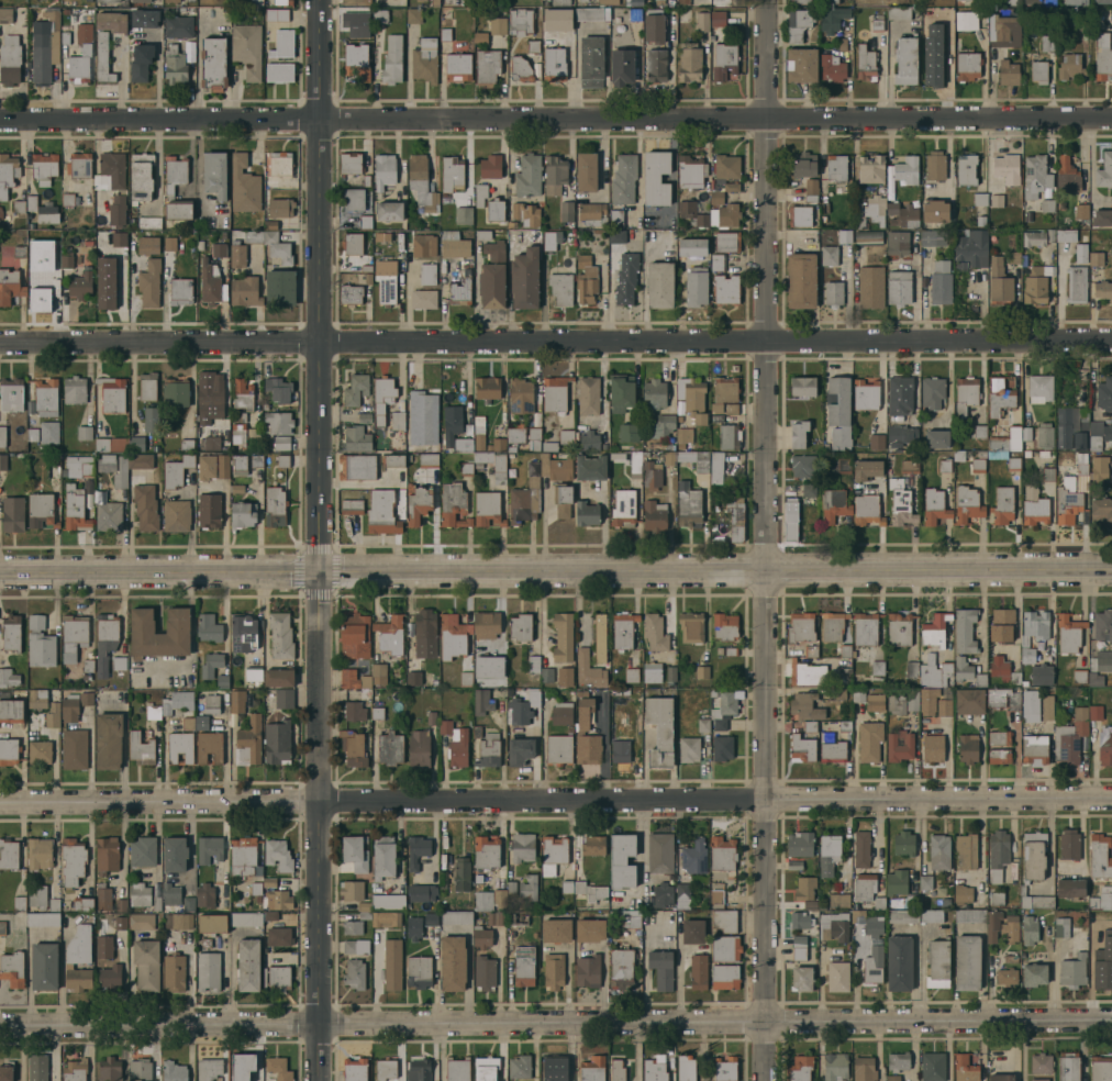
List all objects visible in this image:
building: (108, 0)
building: (140, 0)
building: (190, 0)
building: (421, 0)
building: (582, 0)
building: (173, 1)
building: (608, 1)
building: (801, 1)
building: (829, 1)
building: (893, 1)
building: (1043, 1)
building: (1104, 1)
building: (256, 2)
building: (282, 2)
building: (356, 2)
building: (435, 2)
building: (560, 2)
building: (658, 2)
building: (683, 2)
building: (977, 2)
building: (1007, 2)
building: (1076, 2)
building: (66, 11)
building: (589, 13)
building: (634, 13)
building: (899, 13)
building: (983, 13)
building: (276, 14)
building: (5, 15)
building: (413, 15)
building: (557, 15)
building: (380, 16)
building: (144, 18)
building: (356, 18)
building: (1079, 18)
building: (718, 19)
building: (830, 19)
building: (111, 21)
building: (520, 21)
building: (967, 21)
building: (702, 22)
building: (798, 24)
building: (877, 25)
building: (945, 25)
building: (179, 26)
building: (498, 26)
building: (654, 27)
building: (1004, 27)
building: (36, 30)
building: (445, 34)
building: (65, 37)
building: (480, 37)
building: (845, 43)
building: (1047, 43)
building: (282, 44)
building: (533, 46)
building: (86, 49)
building: (246, 49)
building: (45, 51)
building: (1103, 56)
building: (103, 58)
building: (10, 59)
building: (392, 60)
building: (424, 60)
building: (590, 60)
building: (905, 60)
building: (357, 62)
building: (724, 62)
building: (141, 63)
building: (689, 63)
building: (936, 63)
building: (212, 64)
building: (865, 64)
building: (175, 65)
building: (554, 65)
building: (656, 65)
building: (802, 65)
building: (967, 66)
building: (1071, 66)
building: (458, 67)
building: (487, 67)
building: (622, 67)
building: (520, 69)
building: (831, 69)
building: (1039, 71)
building: (279, 73)
building: (1009, 73)
road: (556, 121)
building: (279, 164)
building: (351, 164)
building: (79, 165)
building: (804, 165)
building: (935, 165)
building: (836, 166)
building: (491, 167)
building: (726, 167)
building: (44, 168)
building: (113, 168)
building: (1007, 168)
building: (871, 169)
building: (967, 169)
building: (907, 170)
building: (1104, 170)
building: (385, 171)
building: (587, 171)
building: (175, 172)
building: (691, 172)
building: (7, 174)
building: (214, 174)
building: (452, 175)
building: (555, 175)
building: (1067, 175)
building: (140, 176)
building: (529, 176)
building: (1035, 176)
building: (656, 178)
building: (367, 180)
building: (422, 182)
building: (270, 183)
building: (243, 186)
building: (732, 187)
building: (811, 187)
building: (622, 188)
building: (480, 194)
building: (718, 198)
building: (811, 198)
building: (68, 199)
building: (980, 199)
building: (994, 199)
building: (354, 200)
building: (32, 203)
building: (19, 205)
building: (1048, 205)
building: (280, 207)
building: (857, 209)
building: (118, 210)
building: (496, 210)
building: (876, 210)
building: (178, 211)
building: (390, 211)
building: (567, 211)
building: (935, 212)
building: (1082, 212)
building: (47, 213)
building: (692, 213)
building: (526, 214)
building: (593, 214)
building: (464, 215)
building: (729, 215)
building: (903, 215)
building: (801, 216)
building: (1101, 216)
building: (4, 220)
building: (981, 221)
building: (148, 222)
building: (365, 222)
building: (859, 223)
building: (31, 224)
building: (270, 224)
building: (31, 233)
building: (223, 235)
building: (483, 235)
building: (1050, 235)
building: (1066, 235)
building: (616, 236)
building: (844, 236)
building: (868, 237)
building: (1034, 237)
building: (53, 238)
building: (119, 238)
building: (933, 238)
building: (1085, 238)
building: (203, 239)
building: (552, 241)
building: (727, 242)
building: (169, 243)
building: (353, 244)
building: (148, 245)
building: (242, 245)
building: (424, 245)
building: (454, 245)
building: (898, 246)
building: (277, 247)
building: (692, 247)
building: (972, 248)
building: (218, 249)
building: (20, 250)
building: (1081, 252)
building: (830, 256)
building: (1014, 256)
building: (1097, 258)
building: (67, 259)
building: (718, 263)
building: (366, 268)
building: (427, 274)
building: (493, 276)
building: (368, 279)
building: (525, 279)
building: (626, 279)
building: (586, 280)
building: (802, 281)
building: (1000, 281)
building: (107, 282)
building: (149, 282)
building: (941, 282)
building: (211, 283)
building: (1037, 283)
building: (1077, 283)
building: (660, 285)
building: (10, 286)
building: (40, 286)
building: (80, 286)
building: (696, 287)
building: (870, 287)
building: (279, 288)
building: (561, 288)
building: (899, 288)
building: (462, 289)
building: (1103, 289)
building: (244, 290)
building: (387, 290)
building: (726, 290)
building: (180, 291)
building: (834, 294)
building: (351, 296)
building: (423, 299)
road: (556, 341)
building: (803, 386)
building: (148, 387)
building: (487, 388)
building: (1041, 388)
building: (278, 389)
building: (355, 389)
building: (75, 390)
building: (621, 391)
building: (724, 391)
building: (176, 393)
building: (555, 393)
building: (933, 393)
building: (967, 393)
building: (1105, 393)
building: (11, 394)
building: (113, 394)
building: (242, 394)
building: (588, 394)
building: (866, 394)
building: (210, 395)
building: (521, 395)
building: (654, 395)
building: (900, 395)
building: (999, 395)
building: (46, 397)
building: (382, 397)
building: (692, 398)
building: (266, 406)
building: (731, 409)
building: (838, 412)
building: (365, 416)
building: (238, 417)
building: (423, 417)
building: (679, 417)
building: (716, 417)
building: (452, 419)
building: (149, 420)
building: (398, 420)
building: (277, 422)
building: (661, 425)
building: (1071, 430)
building: (980, 431)
building: (49, 432)
building: (86, 432)
building: (627, 432)
building: (516, 433)
building: (33, 434)
building: (237, 434)
building: (685, 434)
building: (799, 434)
building: (1027, 434)
building: (1108, 434)
building: (901, 435)
building: (1096, 435)
building: (2, 436)
building: (566, 436)
building: (730, 436)
building: (1045, 436)
building: (254, 437)
building: (479, 437)
building: (534, 437)
building: (356, 438)
building: (937, 438)
building: (1013, 438)
building: (589, 441)
building: (211, 442)
building: (877, 442)
building: (137, 443)
building: (281, 443)
building: (112, 444)
building: (463, 444)
building: (497, 444)
building: (187, 445)
building: (549, 446)
building: (410, 448)
building: (431, 448)
building: (646, 454)
building: (982, 454)
building: (1027, 454)
building: (1047, 454)
building: (958, 455)
building: (669, 457)
building: (414, 458)
building: (393, 459)
building: (429, 459)
building: (696, 459)
building: (141, 460)
building: (256, 460)
building: (281, 460)
building: (3, 461)
building: (108, 463)
building: (54, 464)
building: (81, 464)
building: (238, 464)
building: (635, 464)
building: (841, 464)
building: (1013, 464)
building: (803, 465)
building: (910, 465)
building: (222, 466)
building: (357, 466)
building: (556, 466)
building: (944, 466)
building: (978, 466)
building: (205, 467)
building: (590, 467)
building: (716, 467)
building: (466, 468)
building: (867, 469)
building: (1100, 469)
building: (176, 470)
building: (121, 471)
building: (65, 472)
building: (1082, 472)
building: (500, 475)
building: (652, 475)
building: (1048, 475)
building: (89, 486)
building: (236, 489)
building: (809, 490)
building: (732, 492)
building: (525, 497)
building: (561, 499)
building: (901, 503)
building: (418, 504)
building: (453, 504)
building: (688, 504)
building: (834, 504)
building: (968, 504)
building: (352, 505)
building: (1003, 505)
building: (274, 506)
building: (934, 506)
building: (1035, 506)
building: (1070, 506)
building: (75, 508)
building: (145, 508)
building: (487, 508)
building: (623, 509)
building: (41, 510)
building: (208, 510)
building: (867, 510)
building: (1101, 510)
building: (382, 511)
road: (318, 512)
building: (586, 513)
building: (13, 514)
building: (242, 514)
building: (654, 514)
building: (176, 515)
building: (109, 516)
building: (735, 517)
building: (791, 519)
road: (191, 521)
road: (766, 539)
road: (555, 570)
building: (486, 624)
building: (1036, 624)
building: (1002, 625)
building: (1103, 625)
building: (833, 626)
building: (208, 627)
building: (520, 627)
building: (690, 627)
building: (725, 627)
building: (801, 627)
building: (623, 629)
building: (866, 629)
building: (899, 629)
building: (935, 631)
building: (12, 632)
building: (965, 632)
building: (107, 633)
building: (159, 633)
building: (244, 633)
building: (655, 633)
building: (424, 634)
building: (1069, 634)
building: (280, 635)
building: (389, 635)
building: (74, 636)
building: (355, 636)
building: (453, 636)
building: (561, 637)
building: (599, 637)
building: (40, 643)
building: (844, 649)
building: (727, 650)
building: (811, 651)
building: (1027, 651)
building: (1101, 661)
building: (120, 662)
building: (533, 664)
building: (210, 665)
building: (88, 666)
building: (489, 668)
building: (877, 668)
building: (589, 669)
building: (912, 670)
building: (963, 670)
building: (653, 671)
building: (701, 671)
building: (1003, 671)
building: (379, 672)
building: (934, 672)
building: (253, 673)
building: (670, 673)
building: (547, 675)
building: (808, 675)
building: (1042, 675)
building: (631, 676)
building: (1080, 676)
building: (278, 677)
building: (564, 677)
building: (8, 678)
building: (413, 678)
building: (353, 679)
building: (465, 679)
building: (980, 679)
building: (1096, 679)
building: (222, 681)
building: (712, 691)
building: (1078, 691)
building: (581, 693)
building: (615, 693)
building: (738, 693)
building: (839, 694)
building: (365, 695)
building: (858, 695)
building: (37, 698)
building: (282, 698)
building: (87, 699)
building: (1003, 699)
building: (912, 700)
building: (177, 701)
building: (236, 701)
building: (927, 701)
building: (481, 702)
building: (876, 702)
building: (969, 702)
building: (211, 704)
building: (896, 704)
building: (805, 706)
building: (70, 707)
building: (1047, 707)
building: (944, 709)
building: (724, 710)
building: (11, 711)
building: (153, 711)
building: (354, 711)
building: (519, 712)
building: (378, 713)
building: (1096, 713)
building: (560, 714)
building: (53, 715)
building: (431, 718)
building: (633, 721)
building: (188, 723)
building: (200, 723)
building: (702, 725)
building: (844, 726)
building: (810, 727)
building: (570, 728)
building: (659, 731)
building: (477, 732)
building: (586, 736)
building: (1071, 737)
building: (999, 738)
building: (108, 740)
building: (869, 742)
building: (248, 743)
building: (277, 743)
building: (455, 743)
building: (900, 746)
building: (1105, 746)
building: (179, 747)
building: (209, 747)
building: (141, 748)
building: (353, 748)
building: (389, 748)
building: (721, 748)
building: (933, 748)
building: (968, 748)
building: (75, 749)
building: (418, 749)
building: (488, 749)
building: (557, 749)
building: (688, 749)
building: (802, 749)
building: (832, 749)
building: (1035, 749)
building: (519, 750)
building: (620, 750)
building: (9, 751)
building: (40, 751)
building: (999, 756)
road: (555, 801)
building: (800, 844)
building: (904, 844)
building: (1070, 844)
building: (593, 846)
building: (522, 847)
building: (209, 849)
building: (861, 849)
building: (144, 850)
building: (418, 851)
building: (967, 851)
building: (9, 852)
building: (355, 852)
building: (486, 852)
building: (939, 852)
building: (41, 854)
building: (175, 854)
building: (278, 854)
building: (660, 854)
building: (722, 854)
building: (830, 854)
building: (999, 854)
building: (108, 855)
building: (553, 855)
building: (1035, 855)
building: (1100, 855)
building: (244, 857)
building: (383, 857)
building: (694, 857)
building: (74, 860)
building: (622, 861)
building: (796, 865)
building: (1013, 870)
building: (462, 874)
building: (443, 879)
building: (897, 881)
building: (269, 882)
building: (925, 882)
building: (865, 885)
building: (255, 887)
building: (511, 887)
building: (527, 887)
building: (567, 887)
building: (805, 888)
building: (1071, 888)
building: (351, 890)
building: (591, 891)
building: (422, 892)
building: (170, 893)
building: (141, 894)
building: (961, 894)
building: (104, 895)
building: (203, 895)
building: (663, 895)
building: (38, 896)
building: (500, 896)
building: (682, 896)
building: (716, 898)
building: (998, 899)
building: (1102, 899)
building: (277, 900)
building: (482, 900)
building: (839, 900)
building: (1035, 900)
building: (389, 901)
building: (912, 901)
building: (880, 902)
building: (19, 903)
building: (84, 903)
building: (157, 903)
building: (188, 903)
building: (55, 904)
building: (810, 904)
building: (121, 905)
building: (258, 905)
building: (363, 905)
building: (364, 915)
building: (858, 915)
building: (970, 915)
building: (270, 916)
building: (903, 916)
building: (932, 916)
building: (456, 917)
building: (516, 917)
building: (386, 918)
building: (431, 918)
building: (497, 918)
building: (630, 918)
building: (44, 920)
building: (245, 920)
building: (142, 921)
building: (178, 921)
building: (477, 921)
building: (724, 921)
building: (803, 921)
building: (121, 923)
building: (211, 924)
building: (992, 925)
building: (874, 926)
building: (352, 927)
building: (834, 927)
building: (1063, 927)
building: (2, 928)
building: (414, 928)
building: (1009, 929)
building: (556, 930)
building: (589, 930)
building: (1031, 930)
building: (692, 932)
building: (279, 936)
building: (481, 937)
building: (207, 943)
building: (78, 946)
building: (356, 946)
building: (104, 947)
building: (799, 948)
building: (725, 949)
building: (1010, 956)
building: (900, 962)
building: (147, 963)
building: (453, 963)
building: (967, 963)
building: (392, 965)
building: (874, 965)
building: (938, 965)
building: (45, 966)
building: (247, 966)
building: (524, 966)
building: (13, 968)
building: (1101, 968)
building: (621, 969)
building: (661, 969)
building: (554, 970)
building: (208, 971)
building: (588, 971)
building: (1072, 971)
building: (175, 972)
building: (419, 972)
building: (698, 972)
building: (485, 973)
building: (354, 974)
building: (1035, 974)
building: (110, 976)
building: (725, 977)
building: (838, 977)
building: (1007, 977)
building: (277, 978)
building: (78, 979)
building: (803, 979)
road: (556, 1023)
road: (318, 1052)
building: (898, 1061)
building: (1042, 1063)
building: (242, 1066)
building: (520, 1066)
building: (37, 1067)
building: (835, 1067)
building: (933, 1067)
building: (1069, 1067)
building: (278, 1068)
building: (486, 1068)
building: (555, 1068)
building: (686, 1068)
building: (800, 1068)
building: (110, 1069)
building: (141, 1069)
building: (209, 1069)
building: (386, 1069)
building: (421, 1069)
building: (457, 1069)
building: (592, 1069)
building: (724, 1069)
building: (864, 1069)
building: (965, 1069)
building: (1101, 1069)
building: (76, 1070)
building: (354, 1070)
building: (618, 1070)
building: (654, 1070)
building: (174, 1071)
building: (7, 1072)
building: (1001, 1077)
building: (892, 1078)
building: (1041, 1080)

